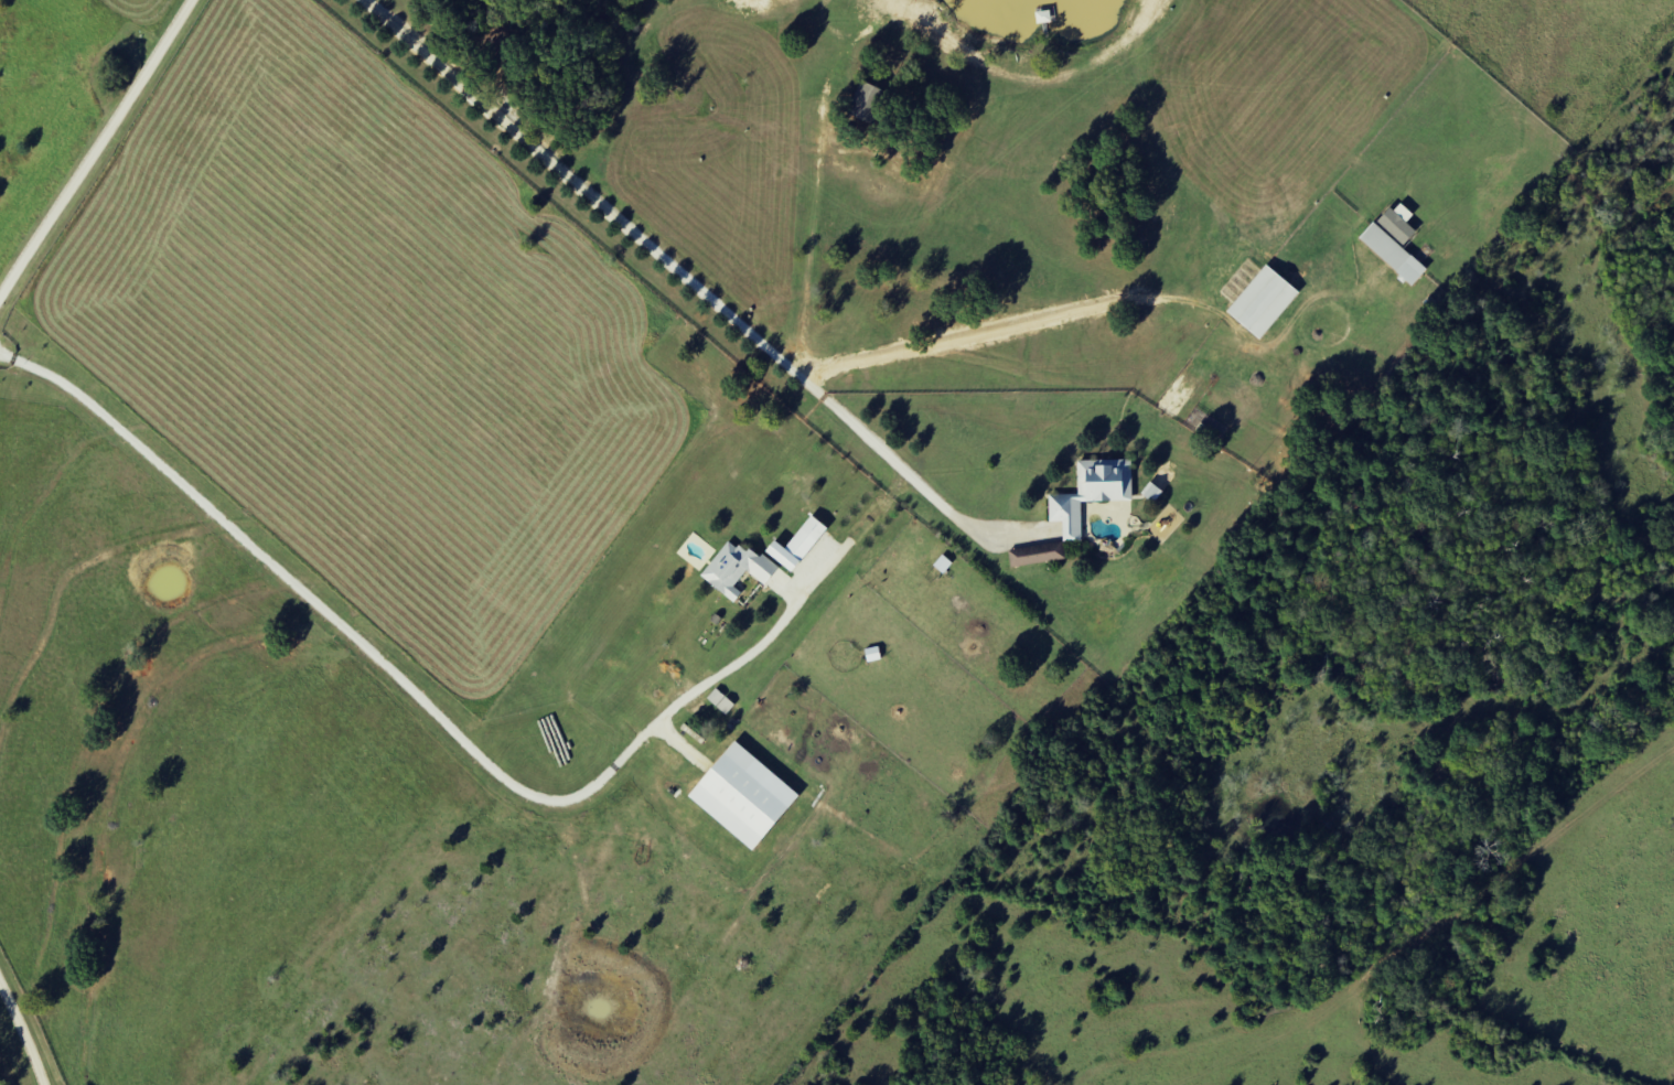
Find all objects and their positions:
building: (869, 103)
road: (95, 152)
building: (1399, 224)
building: (1394, 254)
building: (1264, 302)
building: (1092, 493)
building: (798, 545)
building: (1038, 556)
building: (737, 569)
building: (744, 796)
road: (26, 1030)

